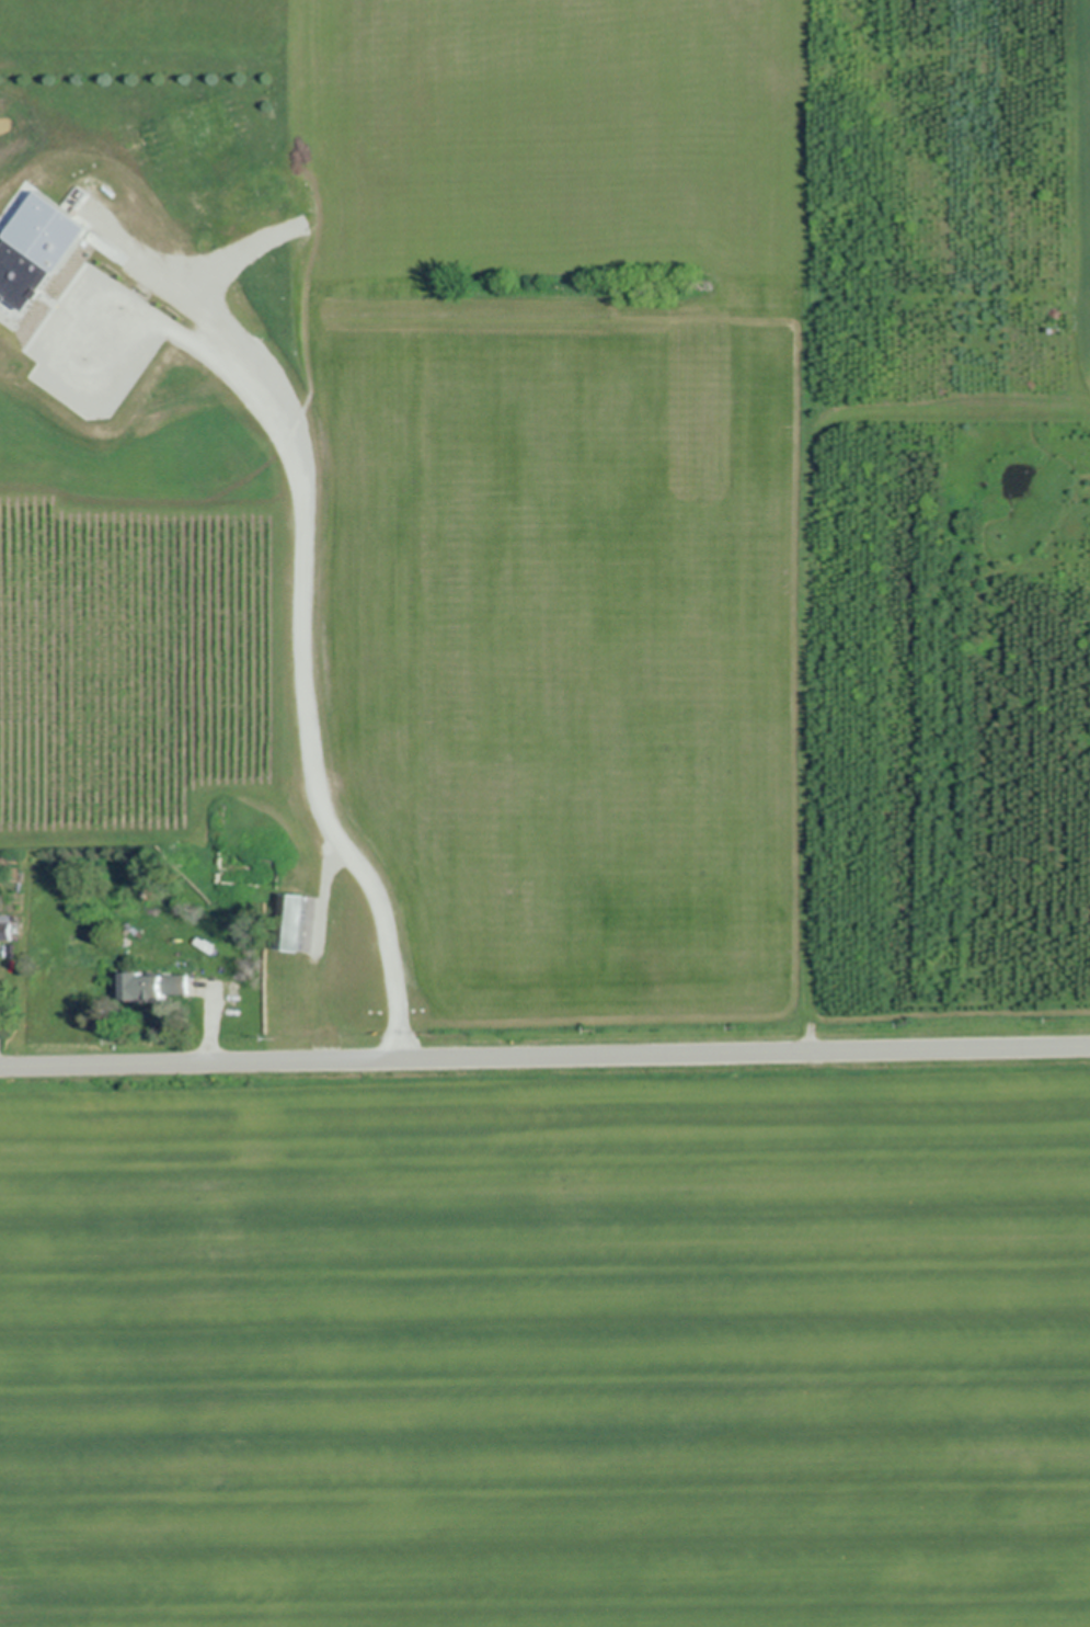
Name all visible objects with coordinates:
building: (35, 244)
building: (5, 929)
building: (157, 987)
road: (544, 1056)

